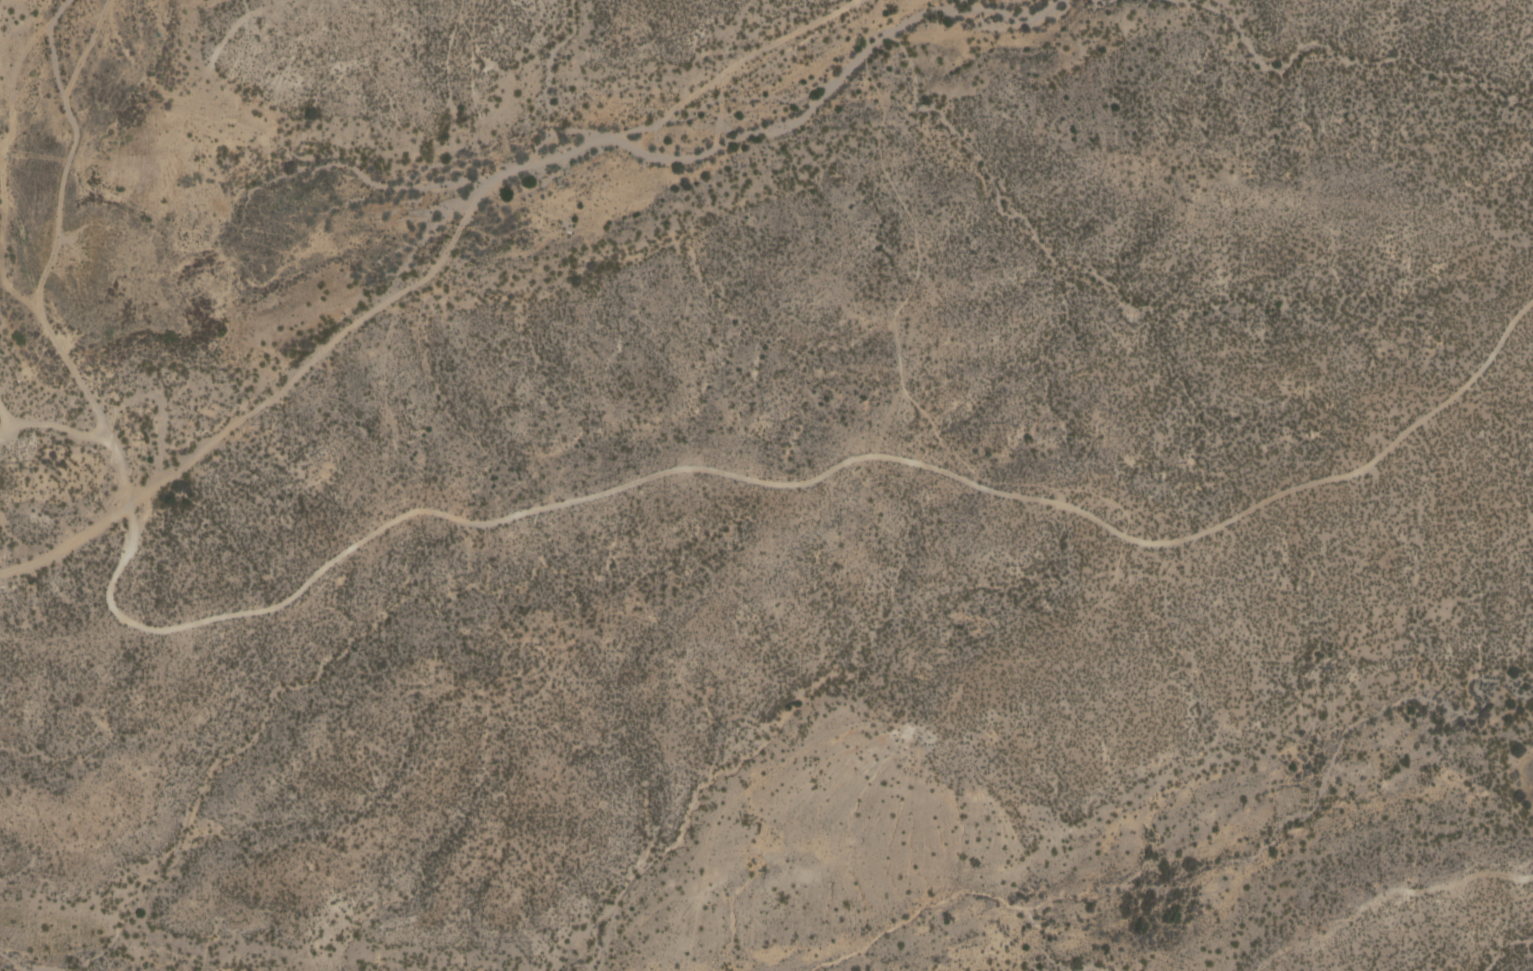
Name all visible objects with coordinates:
road: (2, 148)
road: (424, 275)
road: (6, 419)
road: (62, 427)
dam: (34, 441)
road: (522, 512)

